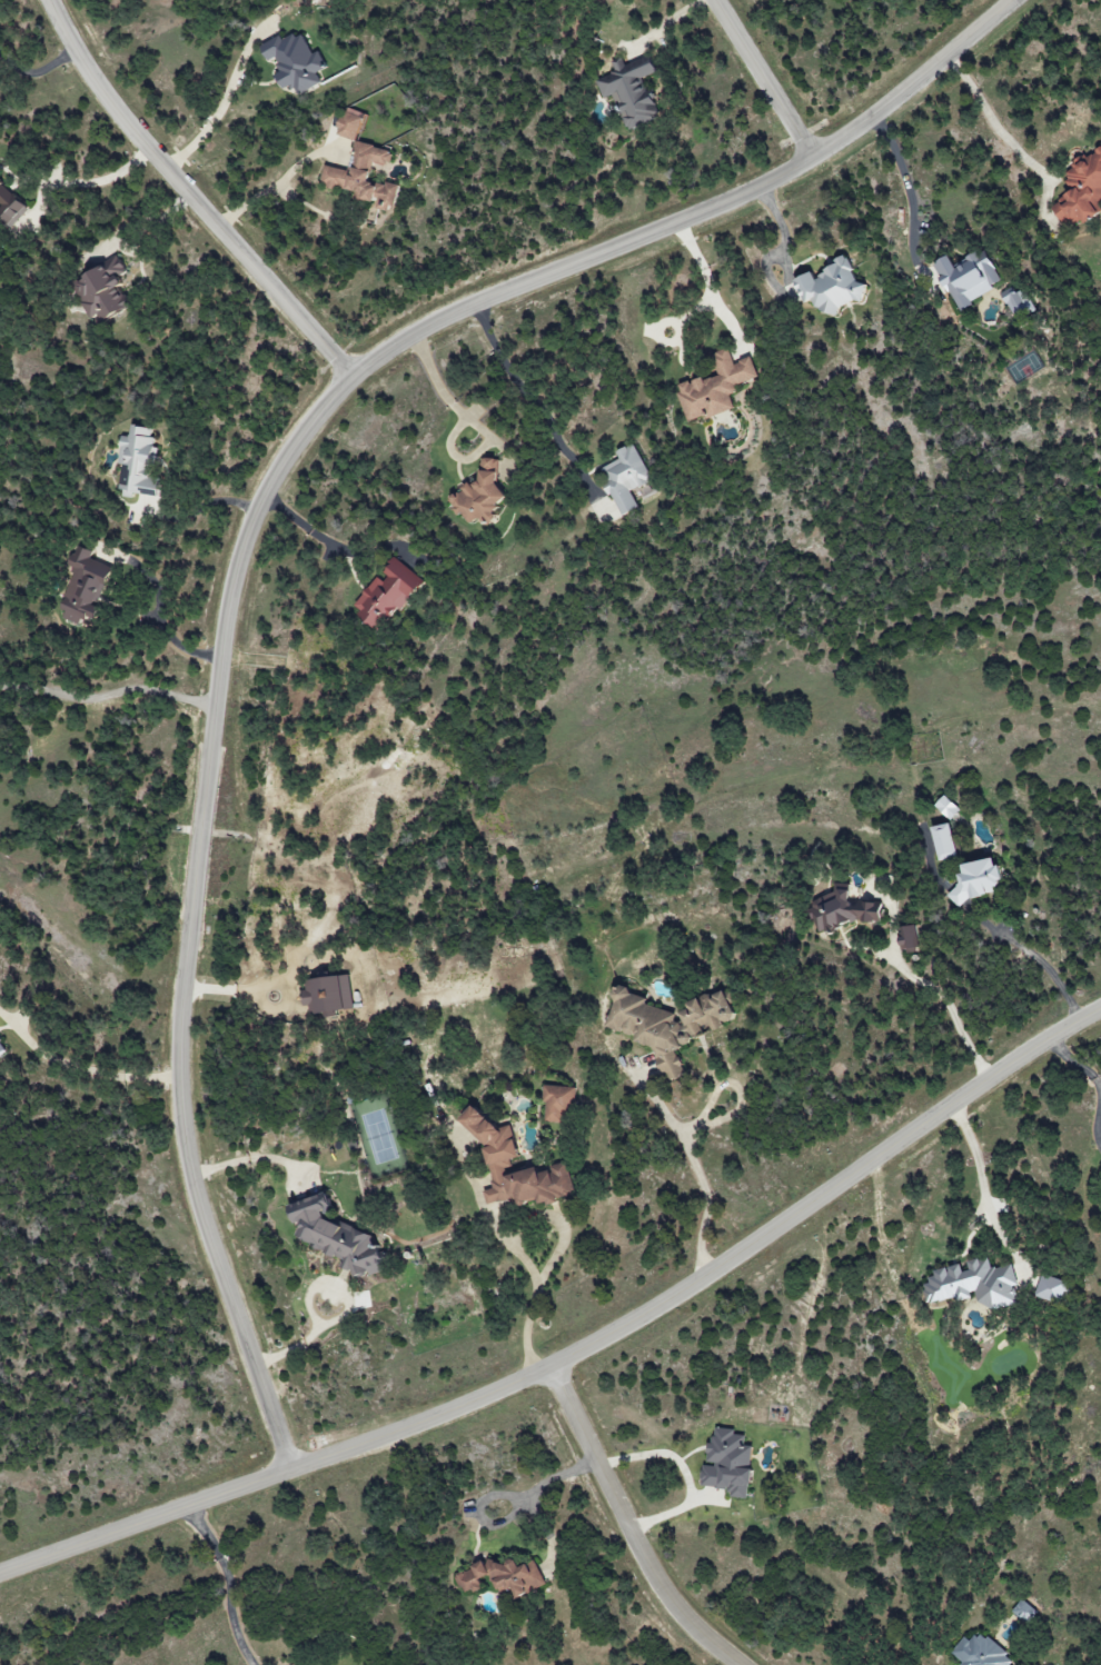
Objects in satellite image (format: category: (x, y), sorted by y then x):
road: (669, 23)
building: (295, 62)
road: (37, 72)
road: (764, 77)
building: (631, 90)
road: (990, 120)
road: (214, 122)
building: (353, 123)
building: (364, 178)
road: (905, 180)
road: (90, 183)
building: (1081, 192)
road: (190, 197)
building: (10, 207)
road: (133, 253)
building: (968, 278)
road: (708, 286)
building: (830, 288)
building: (103, 290)
building: (1018, 302)
road: (517, 387)
building: (715, 387)
road: (477, 429)
building: (138, 461)
building: (625, 478)
building: (479, 496)
road: (248, 536)
road: (317, 538)
building: (85, 586)
building: (387, 594)
road: (161, 612)
road: (110, 695)
building: (946, 807)
building: (944, 841)
building: (976, 880)
building: (844, 909)
building: (907, 937)
road: (1044, 970)
building: (328, 995)
road: (949, 1008)
building: (665, 1023)
building: (2, 1049)
road: (81, 1069)
road: (1092, 1079)
building: (557, 1103)
building: (500, 1151)
road: (698, 1172)
road: (983, 1189)
building: (335, 1236)
road: (561, 1248)
building: (972, 1284)
building: (1051, 1288)
road: (299, 1346)
road: (579, 1352)
building: (727, 1463)
road: (687, 1469)
road: (536, 1493)
road: (627, 1526)
building: (502, 1577)
road: (230, 1584)
building: (1024, 1612)
building: (979, 1652)

